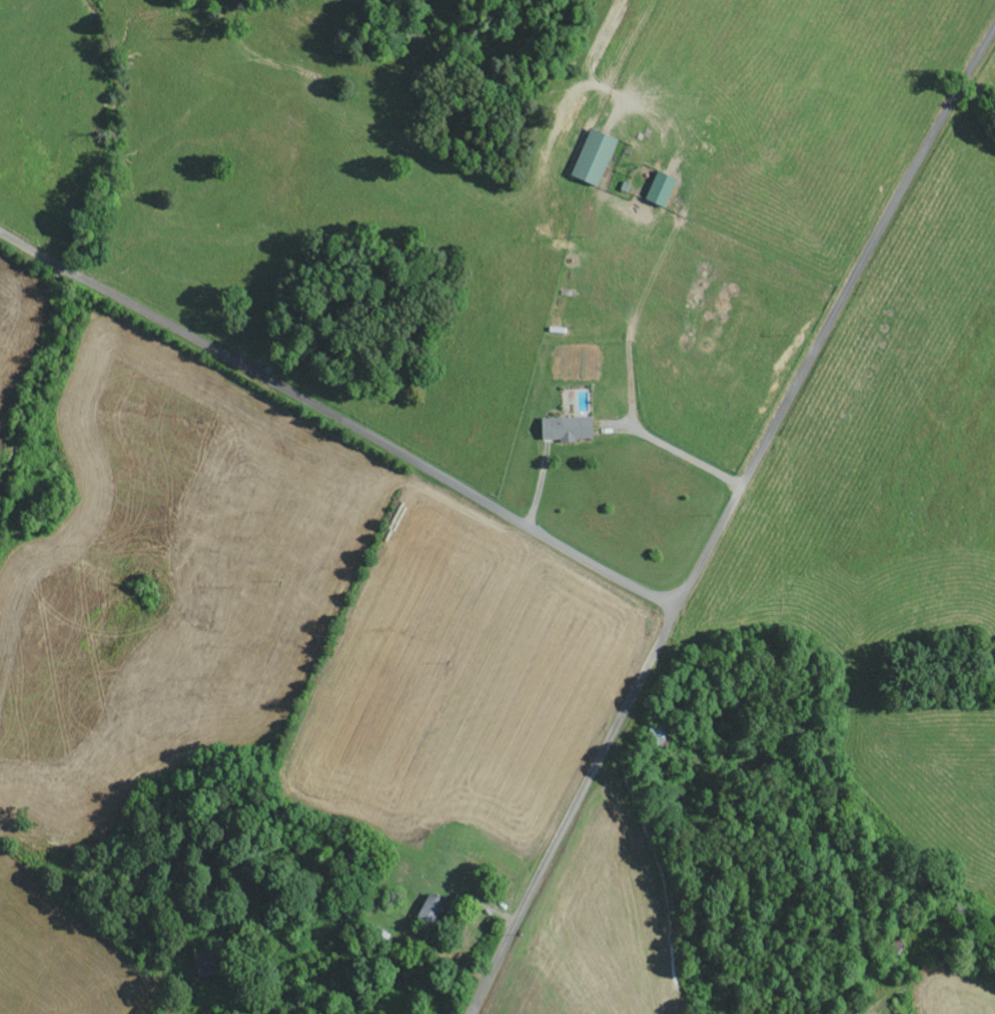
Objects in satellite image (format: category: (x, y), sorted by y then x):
building: (589, 160)
building: (657, 192)
road: (339, 419)
building: (561, 431)
road: (726, 520)

